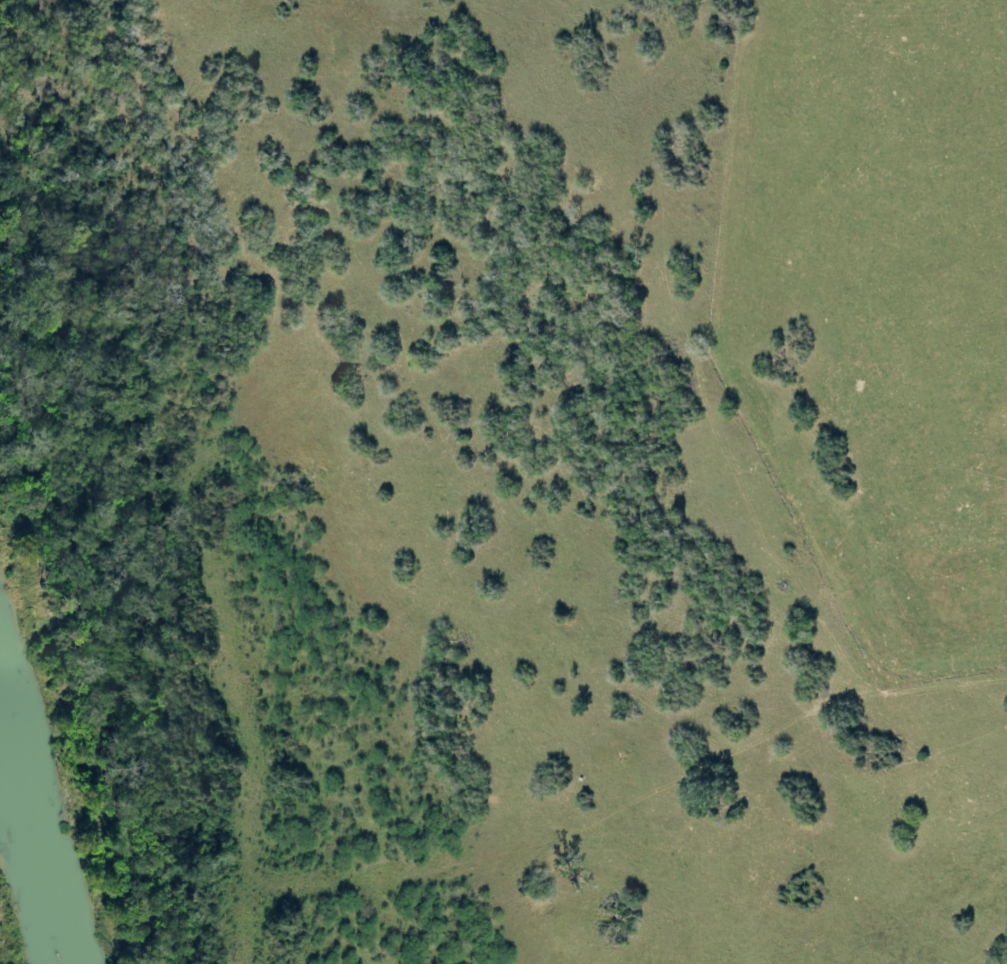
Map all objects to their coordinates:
river: (36, 822)

